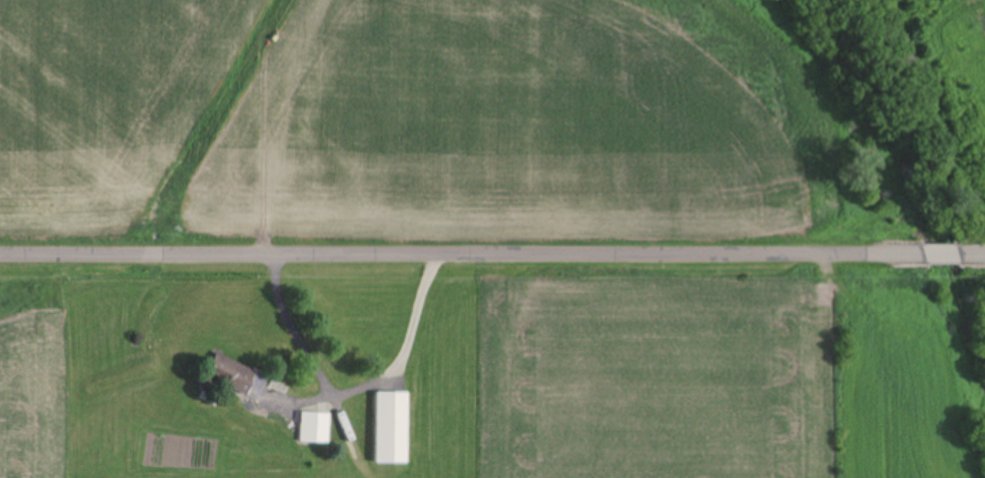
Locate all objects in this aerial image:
river: (913, 205)
road: (973, 253)
road: (942, 254)
road: (462, 255)
building: (238, 377)
building: (394, 428)

